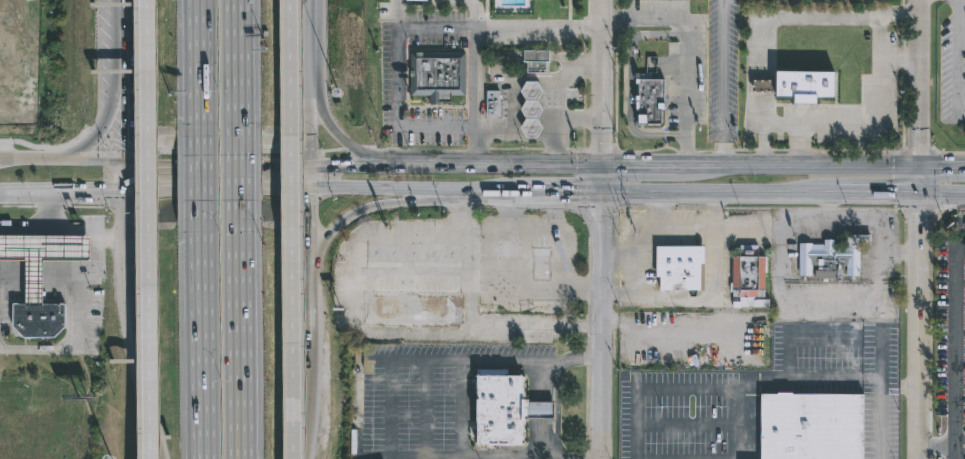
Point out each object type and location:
building: (417, 1)
road: (317, 2)
road: (903, 2)
road: (448, 3)
road: (618, 5)
road: (589, 11)
road: (899, 12)
road: (903, 13)
road: (396, 16)
road: (793, 19)
road: (618, 20)
road: (585, 27)
road: (415, 30)
road: (122, 32)
road: (903, 34)
road: (316, 38)
road: (585, 44)
road: (685, 48)
road: (961, 57)
building: (535, 59)
road: (900, 59)
road: (903, 59)
road: (584, 66)
road: (199, 68)
road: (236, 69)
building: (5, 74)
building: (438, 75)
road: (600, 82)
road: (722, 82)
building: (799, 84)
road: (630, 85)
road: (760, 85)
road: (616, 88)
road: (584, 94)
road: (476, 97)
road: (554, 97)
road: (918, 97)
building: (649, 100)
building: (490, 103)
gas station: (490, 103)
building: (530, 108)
gas station: (530, 108)
road: (761, 108)
road: (123, 113)
road: (310, 117)
road: (577, 119)
road: (584, 119)
road: (108, 123)
road: (781, 124)
road: (873, 125)
road: (584, 139)
traffic signals: (124, 140)
road: (763, 144)
road: (118, 145)
road: (47, 148)
road: (356, 148)
road: (517, 149)
road: (476, 150)
road: (556, 150)
road: (576, 150)
road: (764, 150)
road: (779, 150)
road: (362, 151)
road: (415, 151)
road: (601, 151)
road: (647, 151)
road: (704, 151)
road: (723, 151)
road: (745, 151)
road: (902, 151)
road: (918, 151)
road: (226, 152)
road: (686, 152)
road: (800, 152)
road: (896, 152)
road: (949, 152)
road: (311, 153)
road: (62, 160)
traffic signals: (154, 162)
road: (217, 162)
road: (321, 164)
traffic signals: (329, 164)
road: (385, 164)
road: (530, 164)
traffic signals: (600, 165)
road: (661, 165)
road: (819, 166)
traffic signals: (918, 166)
road: (941, 166)
road: (200, 168)
road: (237, 169)
road: (124, 177)
road: (310, 178)
road: (616, 178)
road: (584, 179)
road: (903, 181)
road: (934, 182)
road: (216, 192)
traffic signals: (301, 192)
road: (62, 193)
traffic signals: (109, 193)
road: (362, 193)
road: (558, 193)
traffic signals: (600, 193)
road: (693, 193)
road: (492, 194)
road: (852, 194)
road: (442, 195)
traffic signals: (918, 195)
road: (941, 195)
road: (919, 204)
traffic signals: (311, 206)
road: (828, 207)
road: (597, 208)
road: (631, 208)
road: (660, 208)
road: (691, 208)
road: (661, 209)
road: (716, 209)
road: (772, 209)
road: (829, 209)
road: (870, 209)
road: (950, 209)
road: (577, 210)
road: (48, 211)
road: (542, 223)
road: (679, 226)
road: (905, 226)
road: (614, 227)
road: (149, 229)
road: (292, 229)
road: (337, 232)
road: (588, 239)
road: (905, 251)
building: (531, 252)
road: (313, 253)
road: (897, 253)
building: (41, 255)
gas station: (41, 255)
building: (413, 255)
building: (831, 256)
road: (614, 258)
road: (621, 258)
road: (643, 261)
building: (678, 267)
road: (905, 272)
building: (749, 275)
road: (82, 277)
road: (614, 277)
road: (513, 278)
road: (713, 280)
road: (587, 287)
road: (614, 291)
road: (621, 297)
road: (877, 300)
road: (587, 308)
building: (412, 311)
road: (600, 312)
building: (38, 319)
road: (929, 322)
road: (587, 324)
road: (919, 326)
road: (134, 327)
road: (203, 329)
road: (240, 329)
road: (587, 342)
road: (952, 344)
building: (672, 346)
road: (312, 353)
road: (443, 358)
road: (587, 358)
parking lot: (751, 386)
building: (497, 407)
road: (586, 408)
building: (537, 410)
road: (308, 425)
building: (811, 426)
road: (880, 430)
road: (929, 445)
road: (929, 446)
road: (946, 446)
road: (586, 455)
road: (929, 457)
road: (568, 458)

